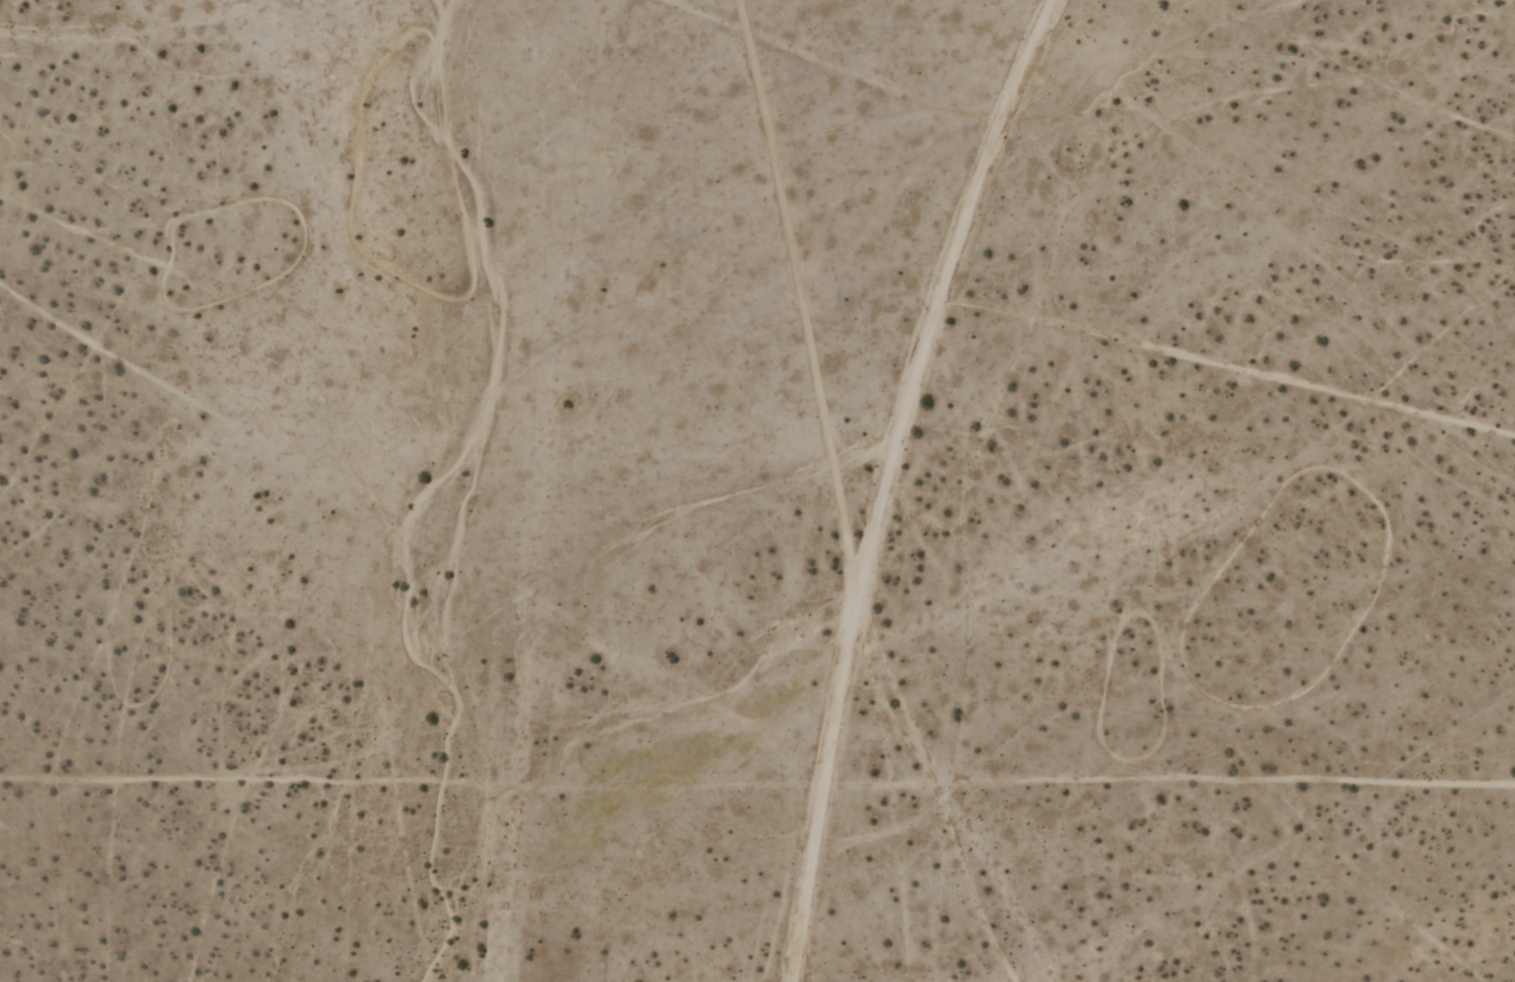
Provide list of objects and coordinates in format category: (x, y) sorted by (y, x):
road: (831, 70)
road: (1215, 367)
road: (889, 480)
crop: (757, 491)

